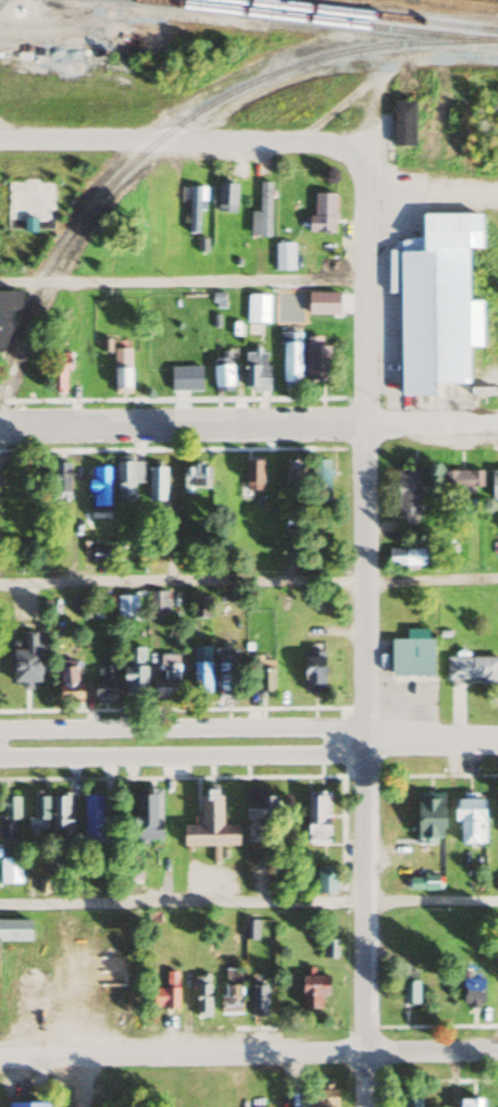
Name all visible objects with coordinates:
railway: (364, 15)
railway: (315, 21)
road: (45, 30)
railway: (184, 121)
building: (402, 123)
road: (187, 141)
building: (225, 198)
building: (29, 206)
building: (194, 210)
building: (261, 213)
building: (322, 213)
building: (283, 256)
road: (186, 281)
building: (295, 302)
building: (323, 302)
building: (437, 306)
building: (257, 308)
building: (5, 323)
building: (289, 359)
building: (315, 360)
building: (121, 370)
building: (254, 371)
building: (495, 371)
building: (58, 372)
building: (170, 374)
building: (222, 377)
building: (27, 378)
road: (249, 424)
building: (294, 474)
building: (252, 475)
building: (195, 476)
building: (126, 480)
building: (461, 480)
building: (320, 482)
building: (59, 483)
building: (494, 484)
building: (155, 486)
building: (98, 493)
building: (407, 493)
building: (411, 558)
road: (249, 583)
building: (157, 602)
building: (199, 607)
building: (125, 610)
road: (362, 624)
building: (411, 658)
building: (26, 661)
building: (472, 670)
building: (200, 671)
building: (133, 673)
building: (312, 673)
building: (225, 676)
building: (166, 679)
building: (262, 679)
building: (67, 683)
building: (104, 685)
road: (182, 730)
road: (431, 738)
road: (183, 756)
building: (259, 809)
building: (60, 813)
building: (148, 816)
building: (429, 816)
building: (92, 817)
building: (9, 818)
building: (316, 818)
building: (469, 821)
building: (210, 825)
building: (10, 871)
building: (325, 880)
road: (249, 903)
building: (249, 930)
building: (14, 932)
building: (327, 949)
building: (409, 988)
building: (231, 992)
building: (312, 992)
building: (471, 992)
building: (165, 993)
building: (201, 996)
building: (258, 1002)
road: (248, 1055)
building: (324, 1098)
building: (410, 1104)
building: (469, 1104)
building: (27, 1105)

